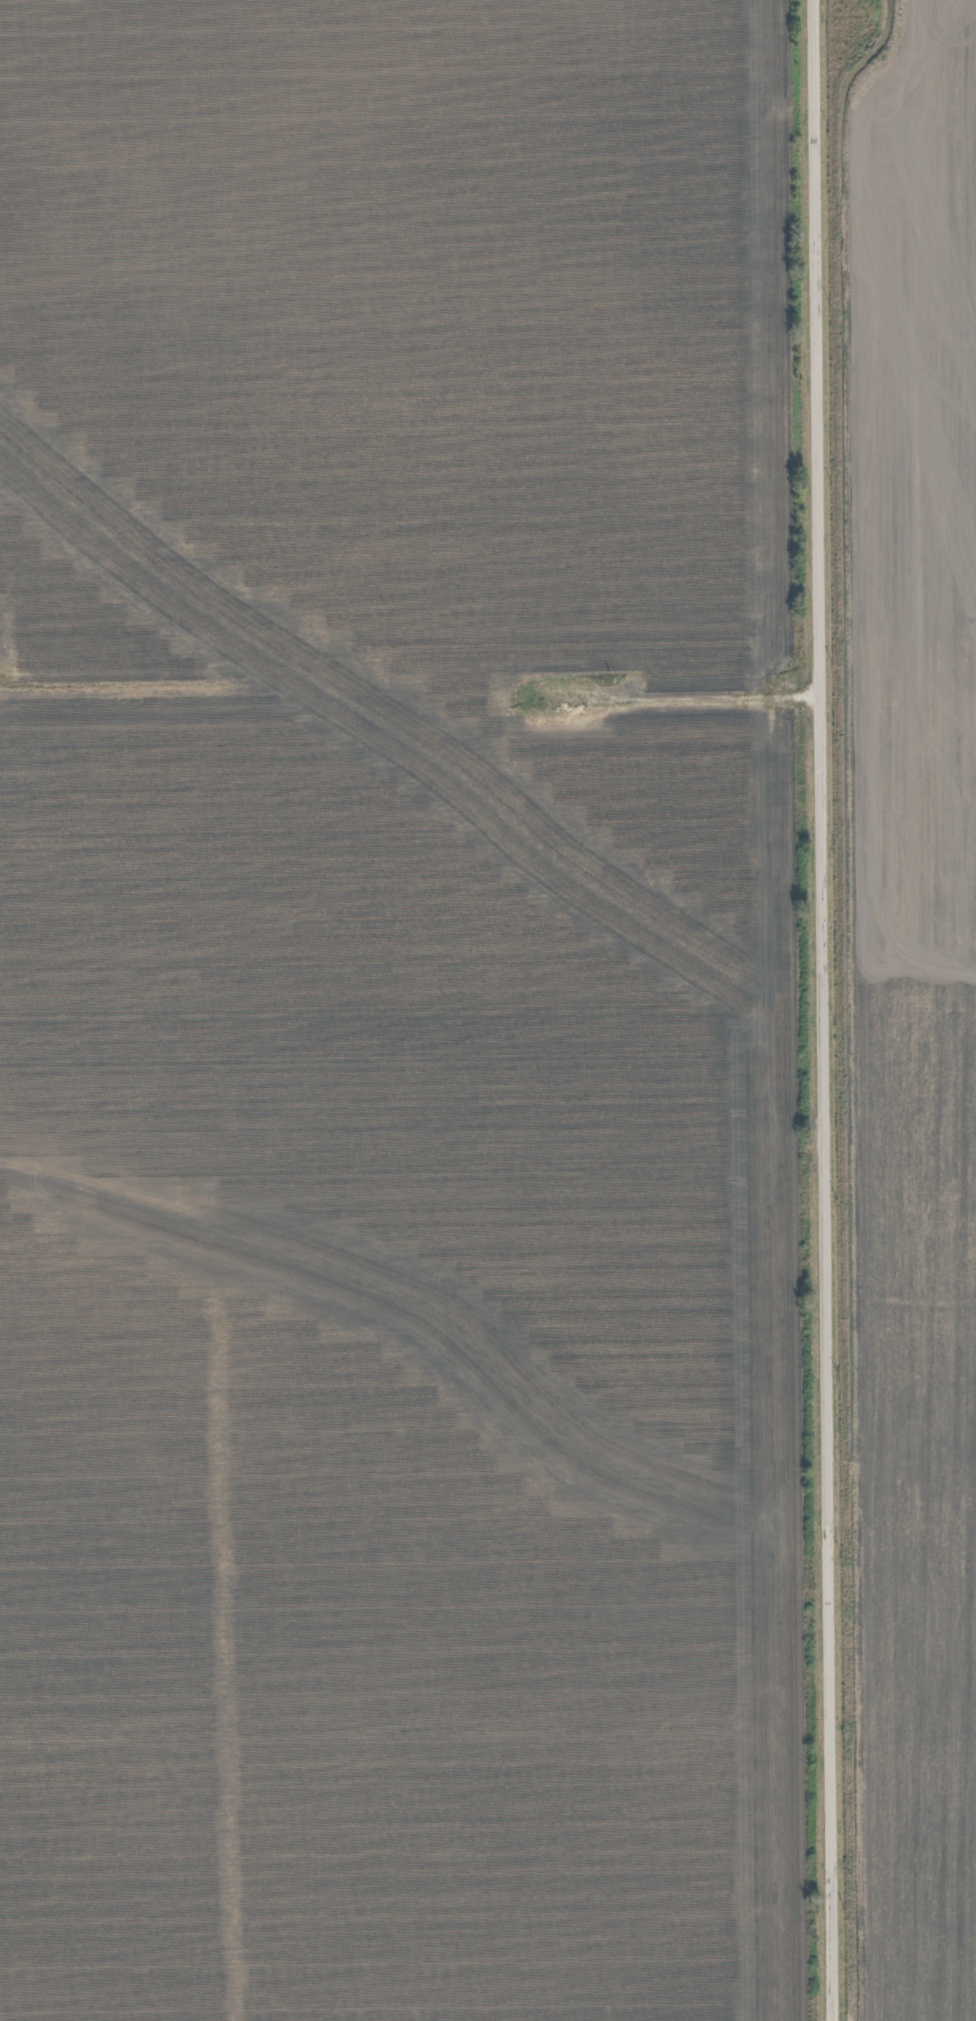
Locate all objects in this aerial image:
road: (824, 1010)

